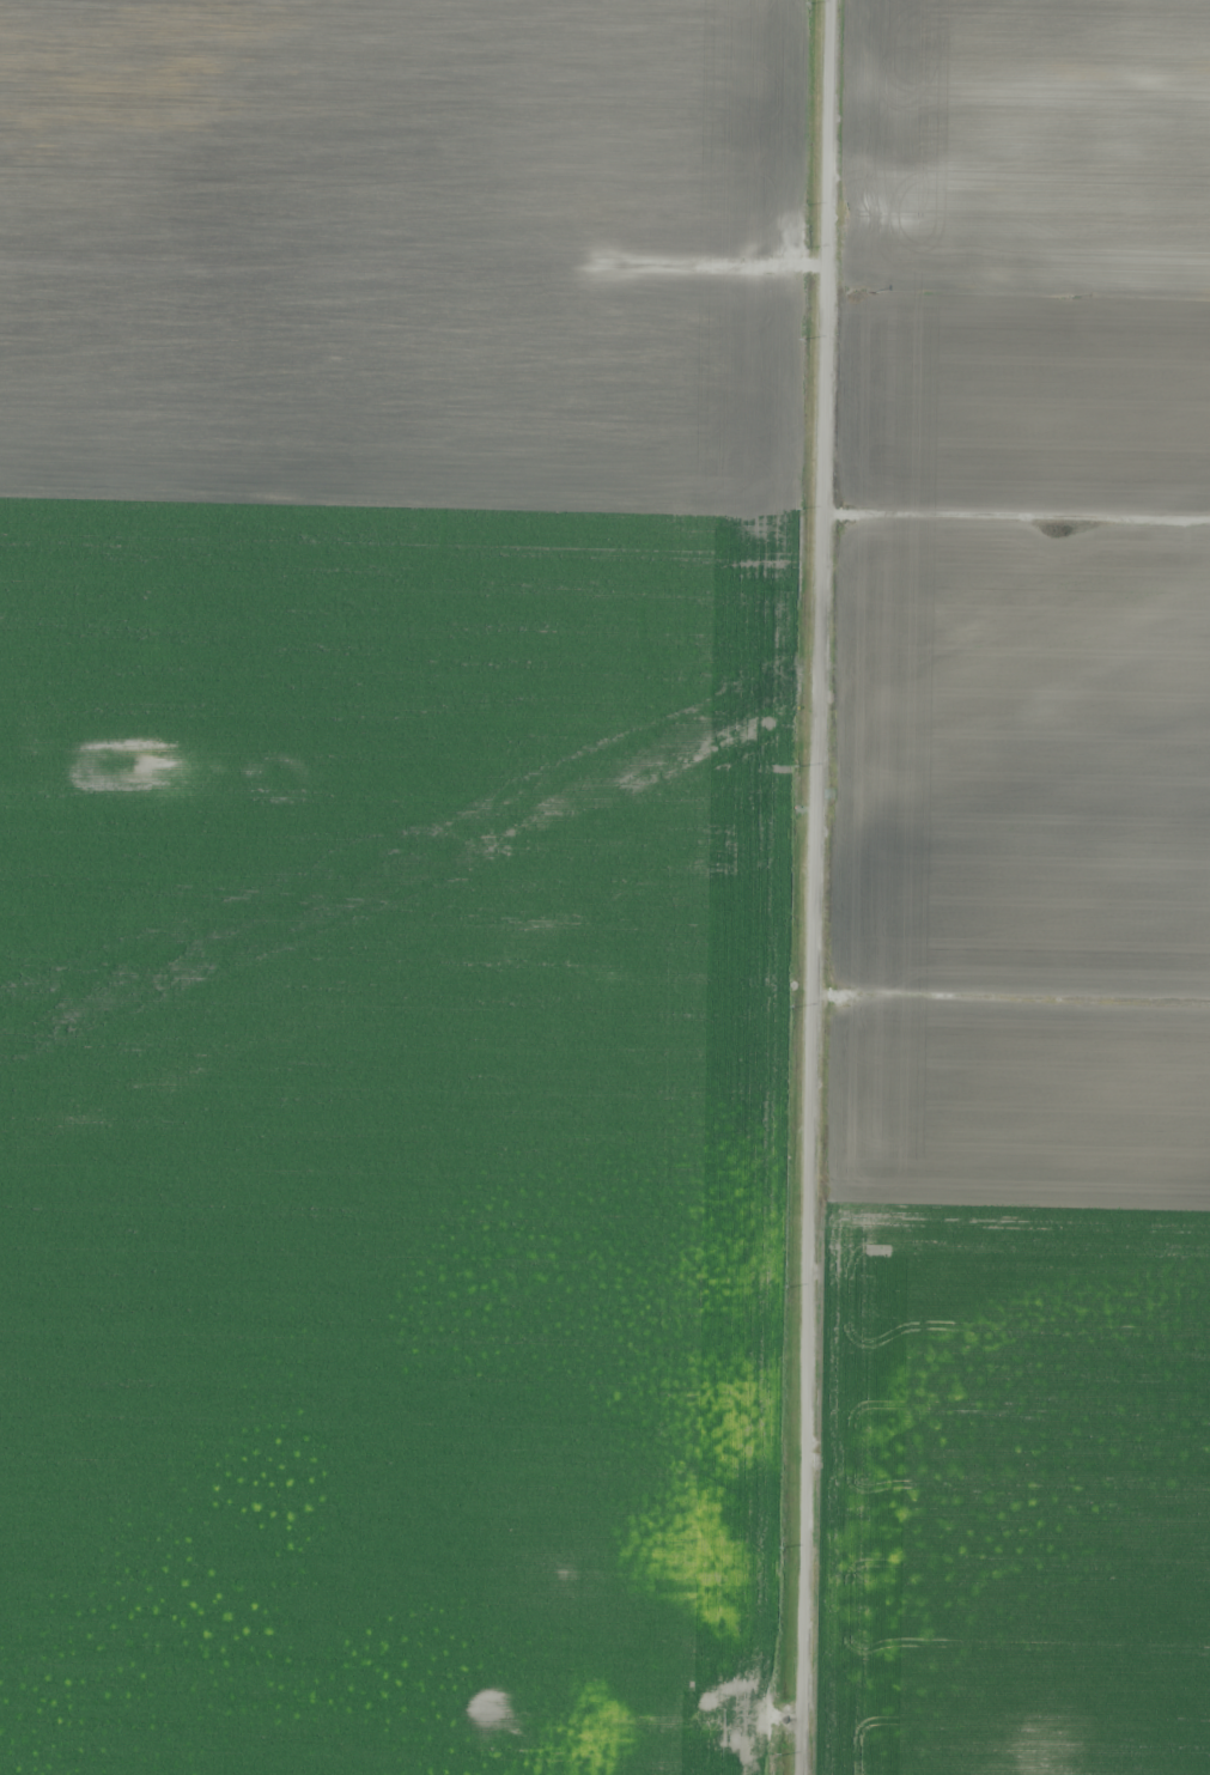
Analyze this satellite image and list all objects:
road: (1016, 516)
road: (815, 887)

